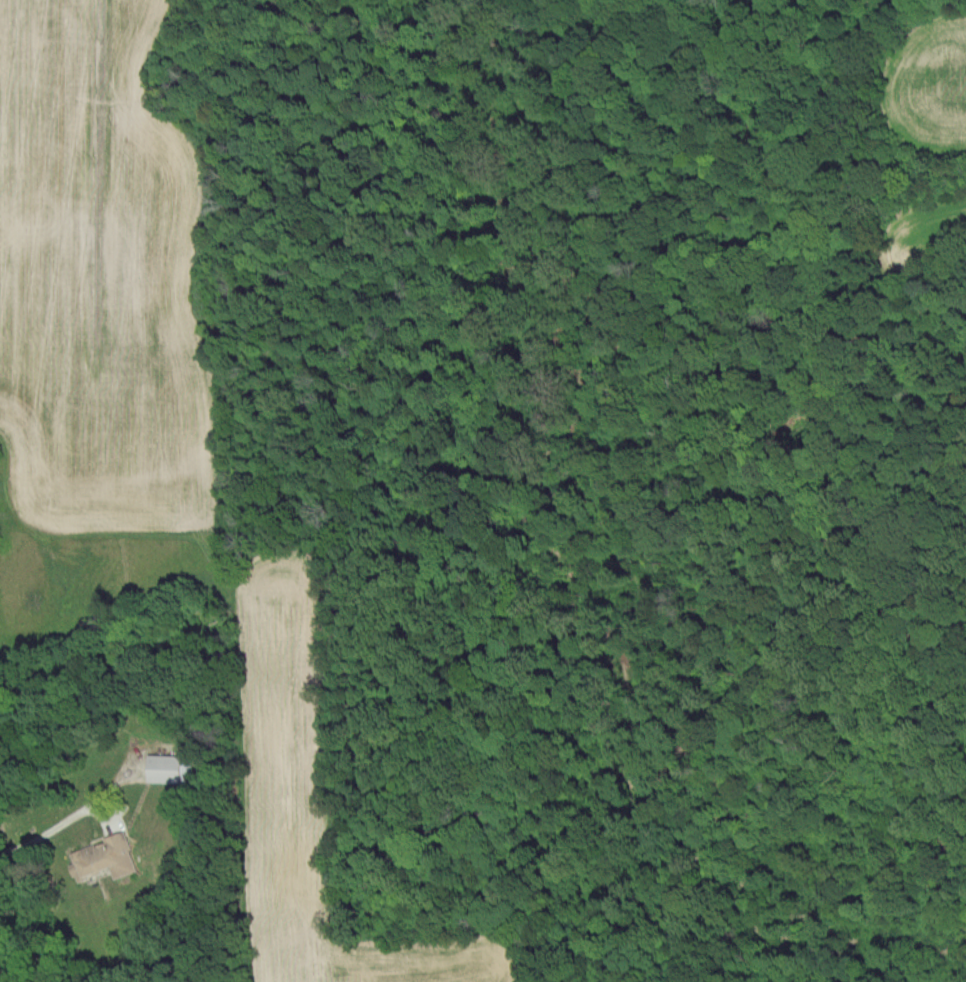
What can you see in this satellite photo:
building: (170, 767)
road: (44, 833)
building: (103, 856)

